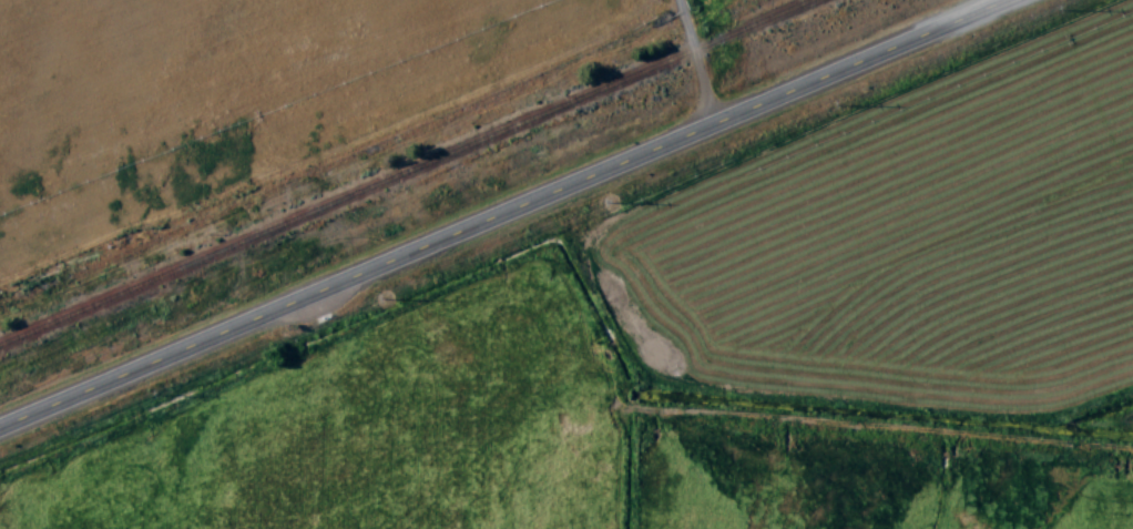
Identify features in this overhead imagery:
railway: (755, 24)
road: (700, 62)
railway: (348, 196)
road: (509, 214)

